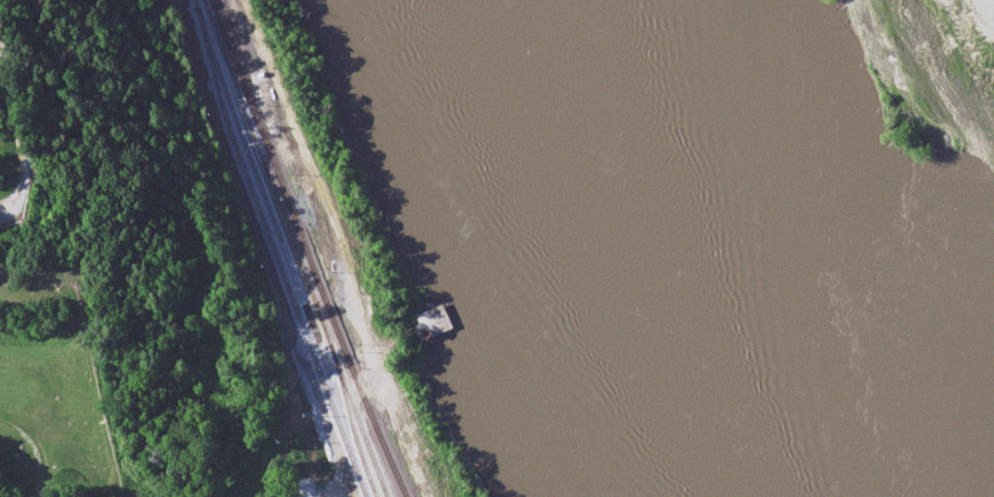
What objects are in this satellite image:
road: (109, 41)
railway: (234, 49)
railway: (221, 52)
road: (73, 81)
road: (16, 139)
road: (103, 189)
park: (155, 241)
river: (711, 248)
railway: (305, 250)
railway: (299, 298)
railway: (312, 300)
building: (433, 324)
railway: (351, 425)

